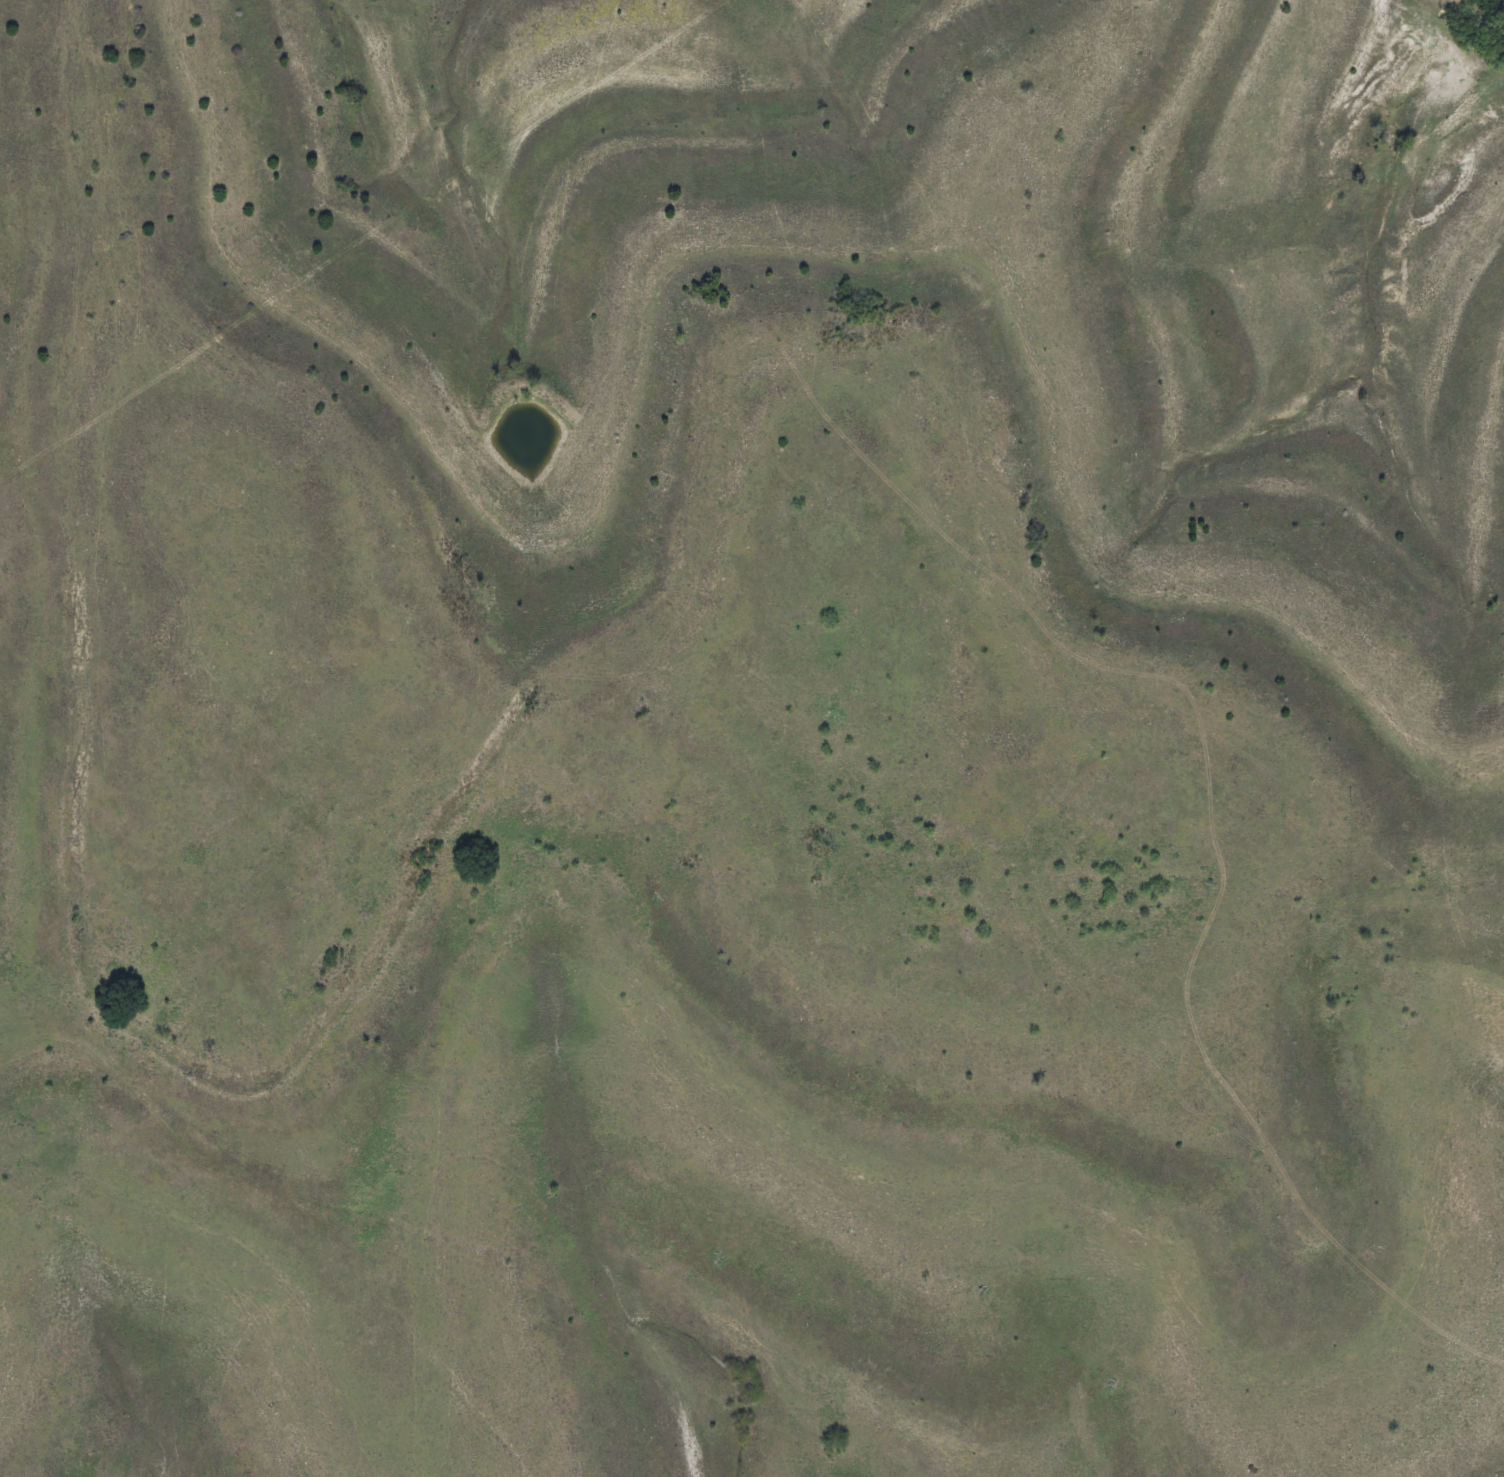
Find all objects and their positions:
railway: (1480, 15)

